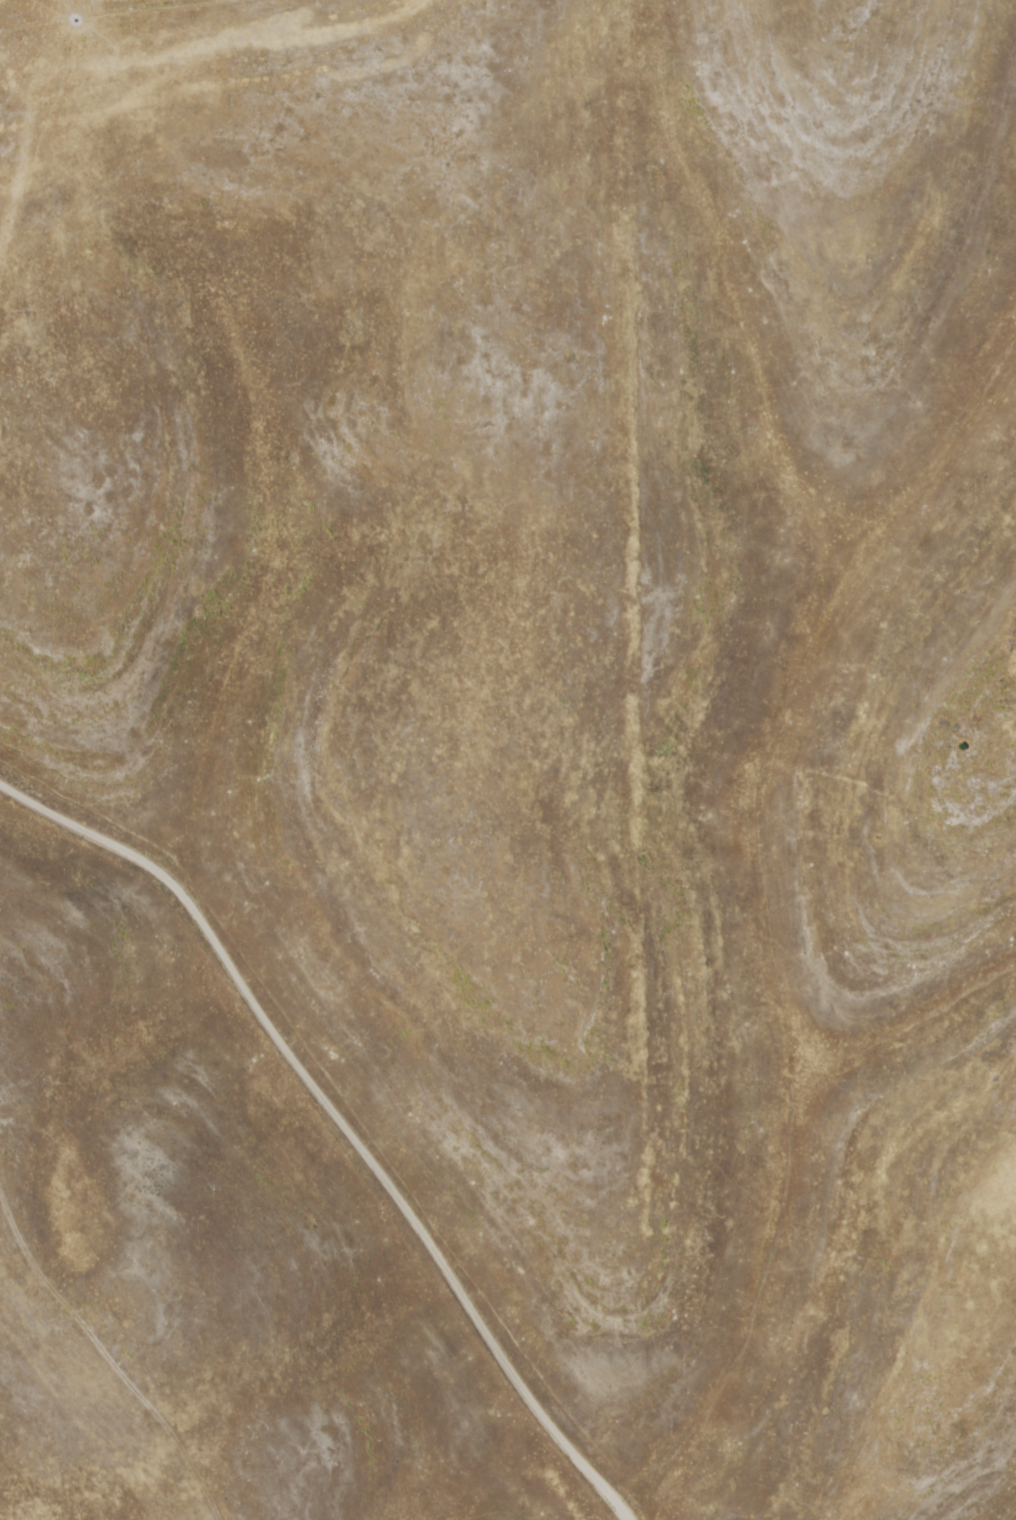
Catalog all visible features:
road: (340, 1123)

